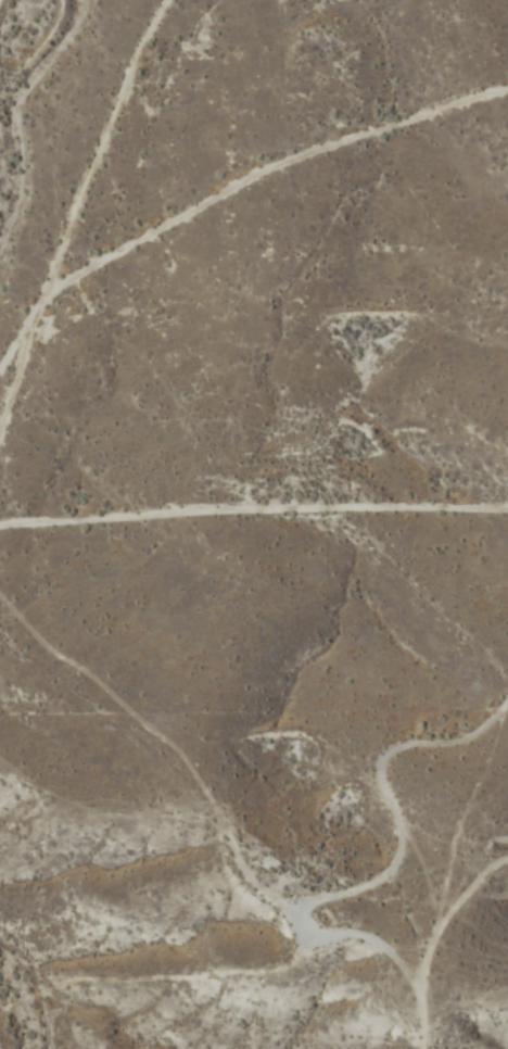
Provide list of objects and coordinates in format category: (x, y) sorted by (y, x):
road: (253, 541)
road: (453, 896)

